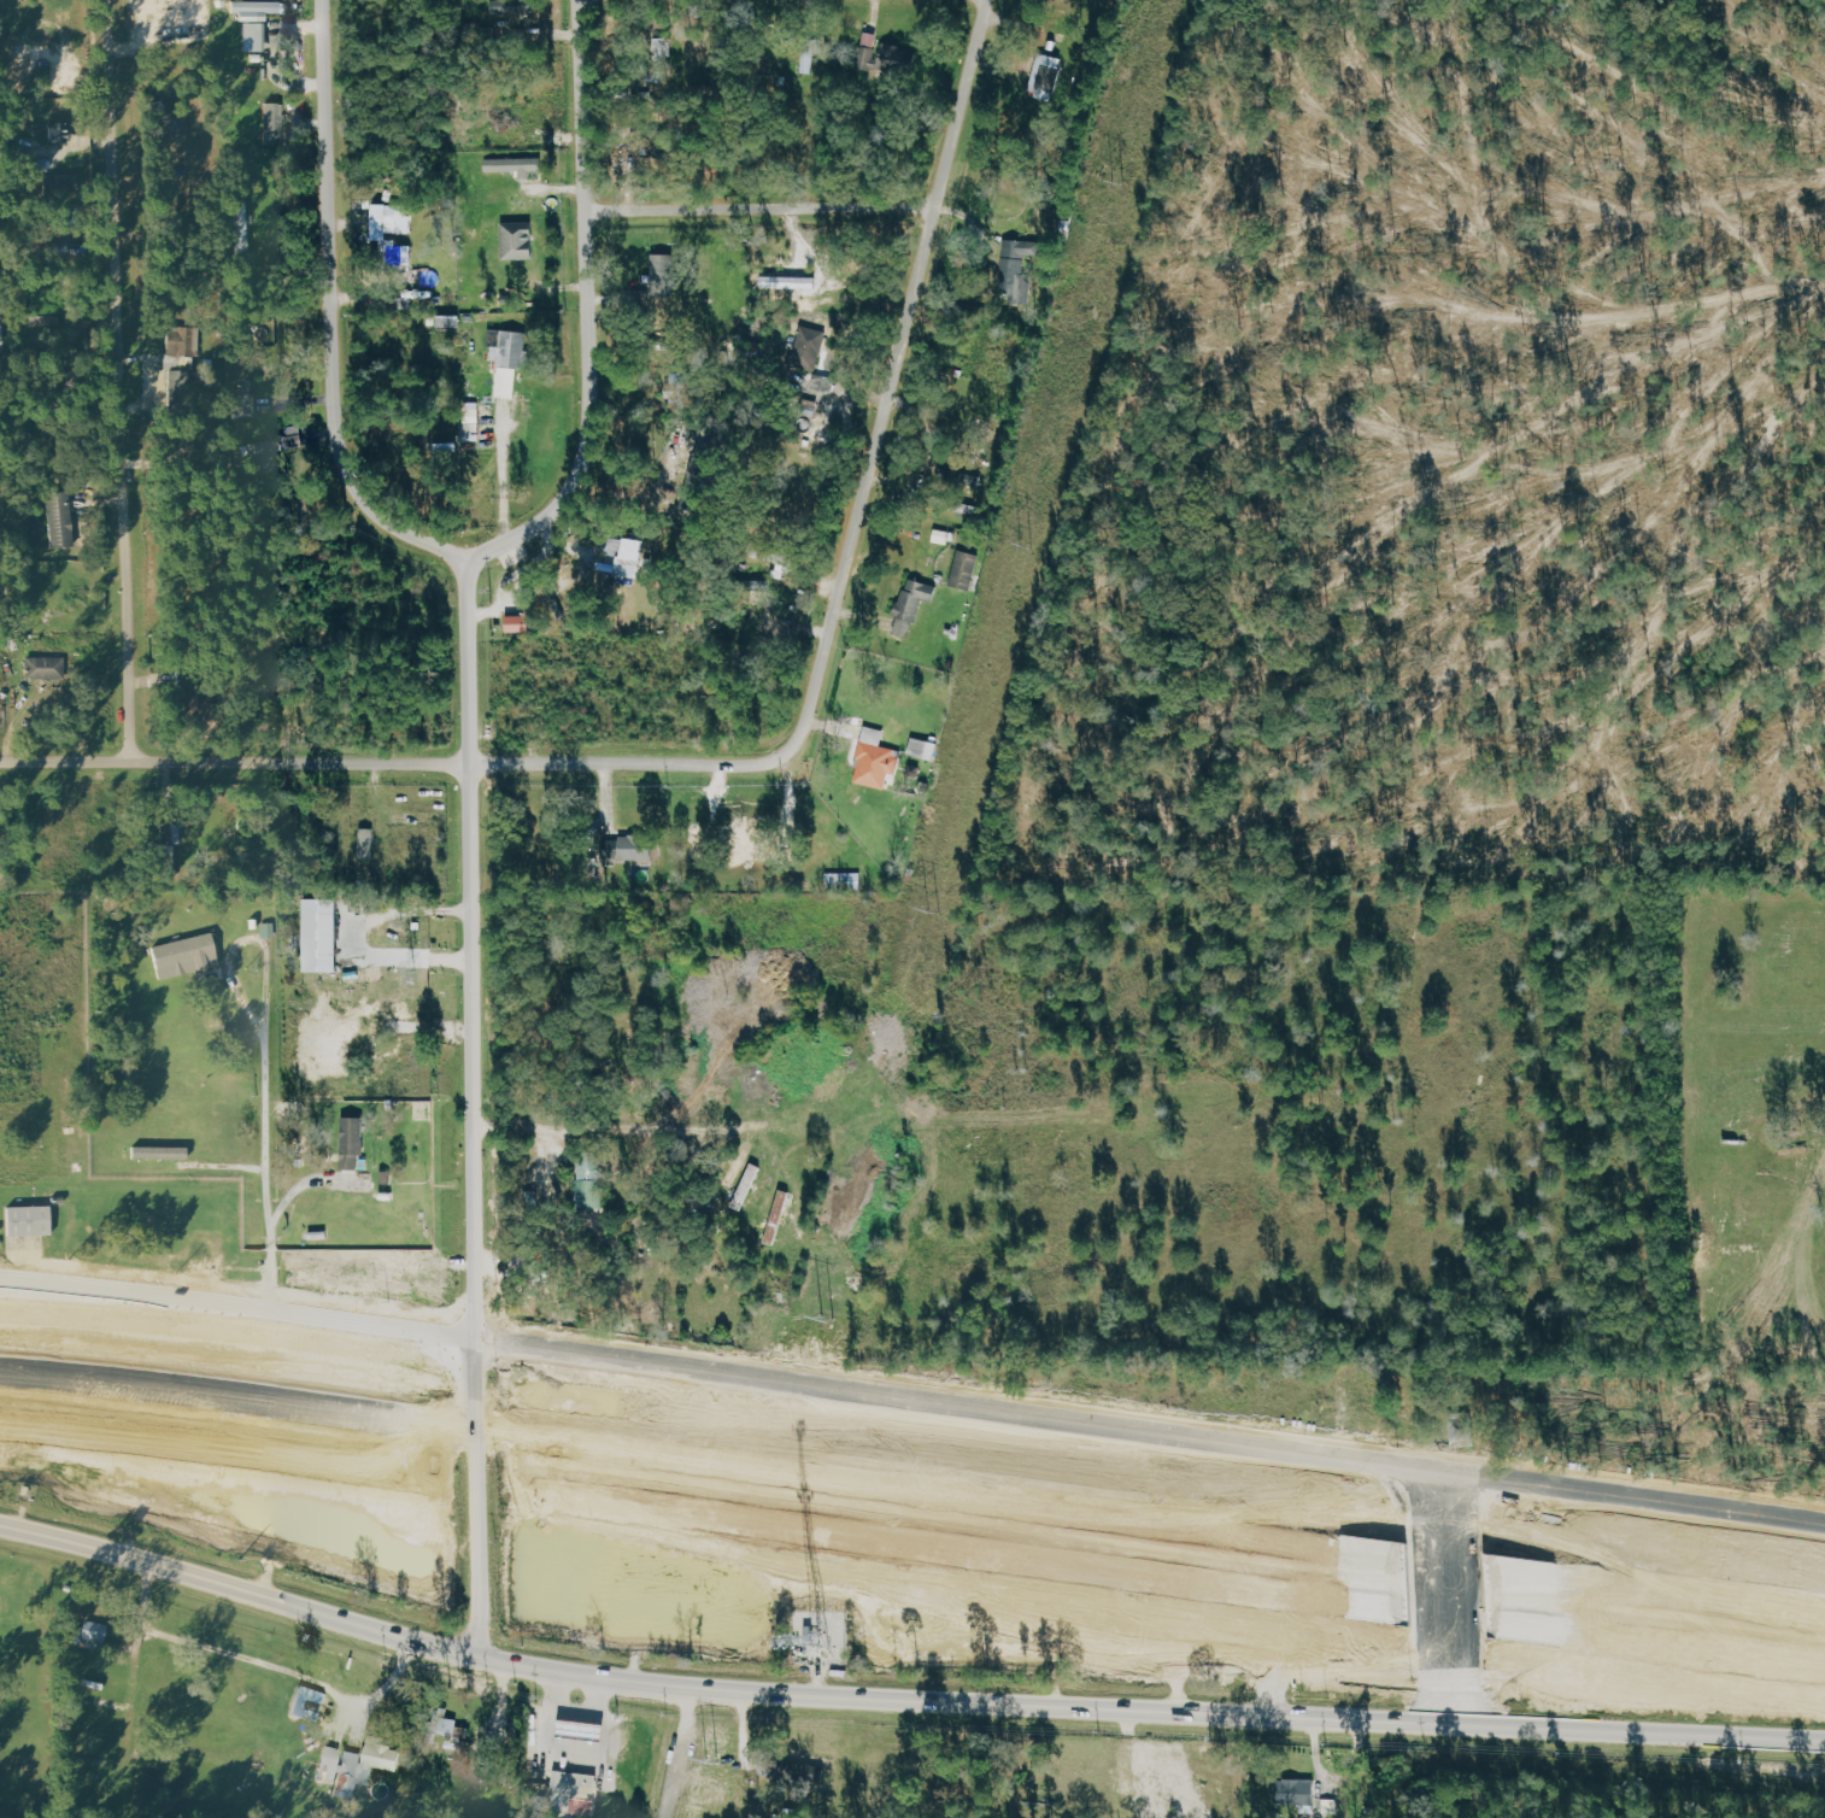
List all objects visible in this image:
building: (512, 8)
building: (257, 22)
building: (663, 47)
building: (886, 55)
building: (809, 57)
building: (1046, 76)
building: (275, 124)
building: (60, 134)
building: (515, 165)
power tower: (1115, 183)
road: (759, 207)
building: (392, 218)
building: (518, 241)
building: (242, 242)
building: (397, 253)
building: (1010, 274)
building: (664, 277)
road: (588, 309)
road: (330, 313)
building: (181, 348)
building: (808, 348)
road: (121, 381)
building: (821, 381)
building: (677, 387)
road: (887, 391)
building: (242, 407)
building: (471, 422)
building: (262, 458)
building: (61, 520)
power tower: (1025, 547)
building: (627, 557)
building: (964, 570)
building: (912, 605)
building: (60, 622)
building: (518, 623)
building: (39, 670)
building: (923, 747)
building: (876, 760)
road: (382, 766)
building: (171, 837)
building: (366, 843)
building: (627, 849)
building: (844, 881)
power tower: (932, 911)
road: (359, 934)
building: (323, 936)
road: (471, 949)
building: (186, 957)
building: (353, 1140)
building: (160, 1153)
building: (738, 1163)
building: (747, 1178)
building: (589, 1179)
building: (29, 1221)
road: (65, 1296)
power tower: (825, 1327)
road: (912, 1402)
road: (709, 1461)
building: (1230, 1506)
building: (1187, 1513)
road: (709, 1519)
building: (627, 1558)
road: (1462, 1559)
building: (1301, 1588)
road: (1666, 1589)
road: (1455, 1605)
road: (1459, 1615)
building: (93, 1635)
road: (1662, 1643)
road: (224, 1652)
road: (379, 1690)
road: (903, 1700)
building: (441, 1726)
road: (1316, 1748)
road: (571, 1749)
road: (1748, 1750)
road: (677, 1754)
power tower: (712, 1754)
building: (357, 1765)
building: (804, 1781)
building: (574, 1794)
building: (1299, 1794)

